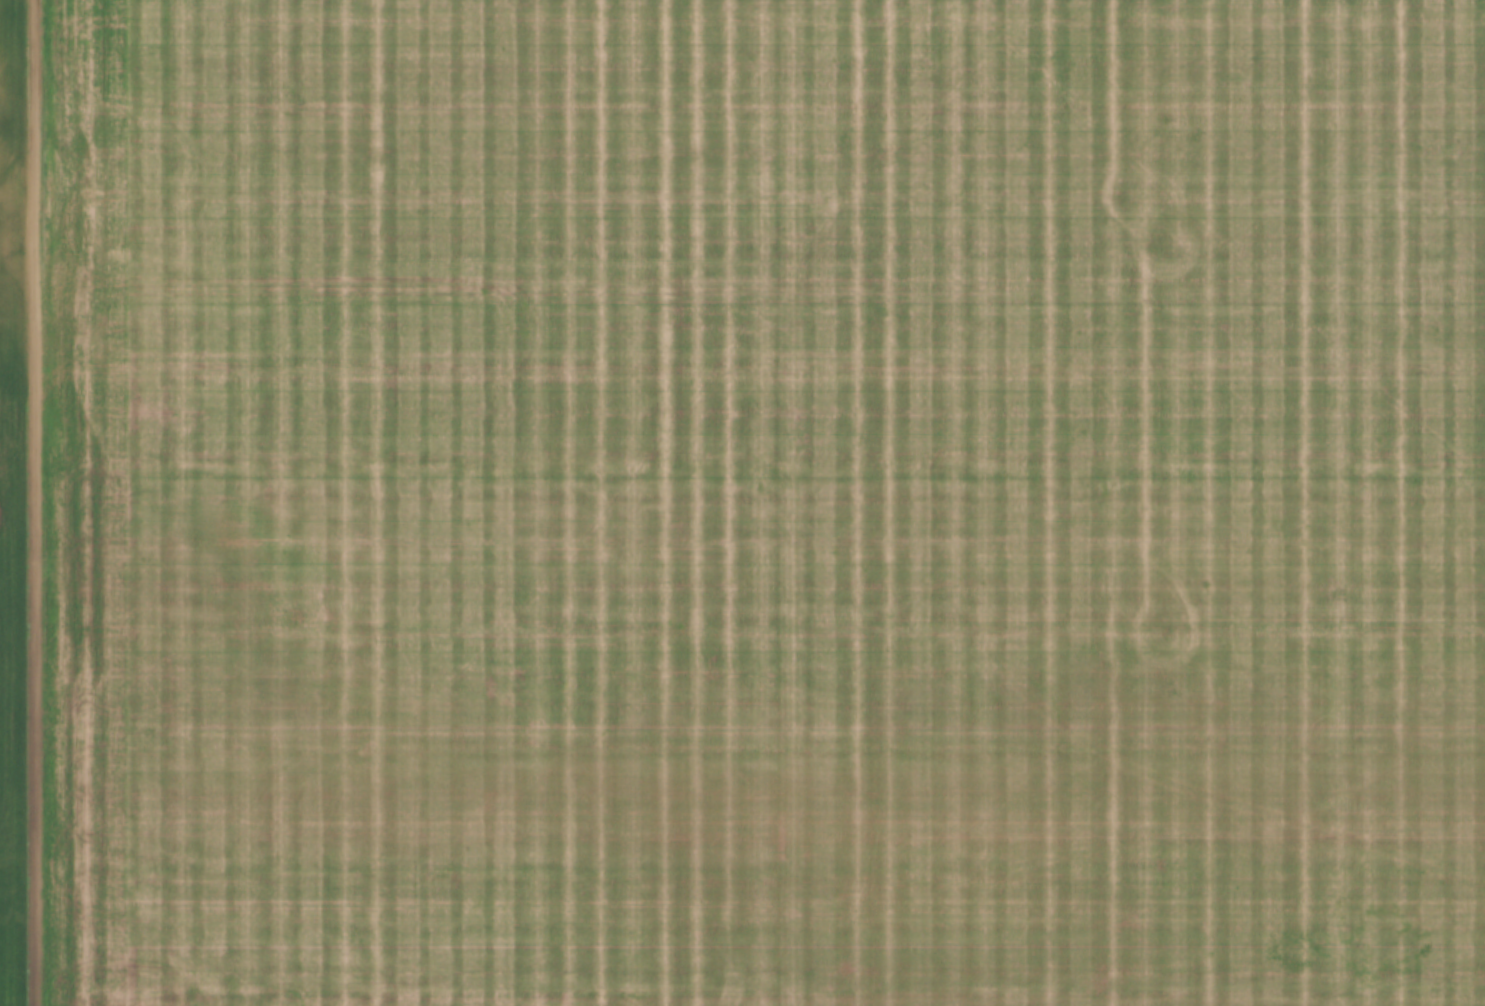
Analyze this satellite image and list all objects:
road: (33, 503)

